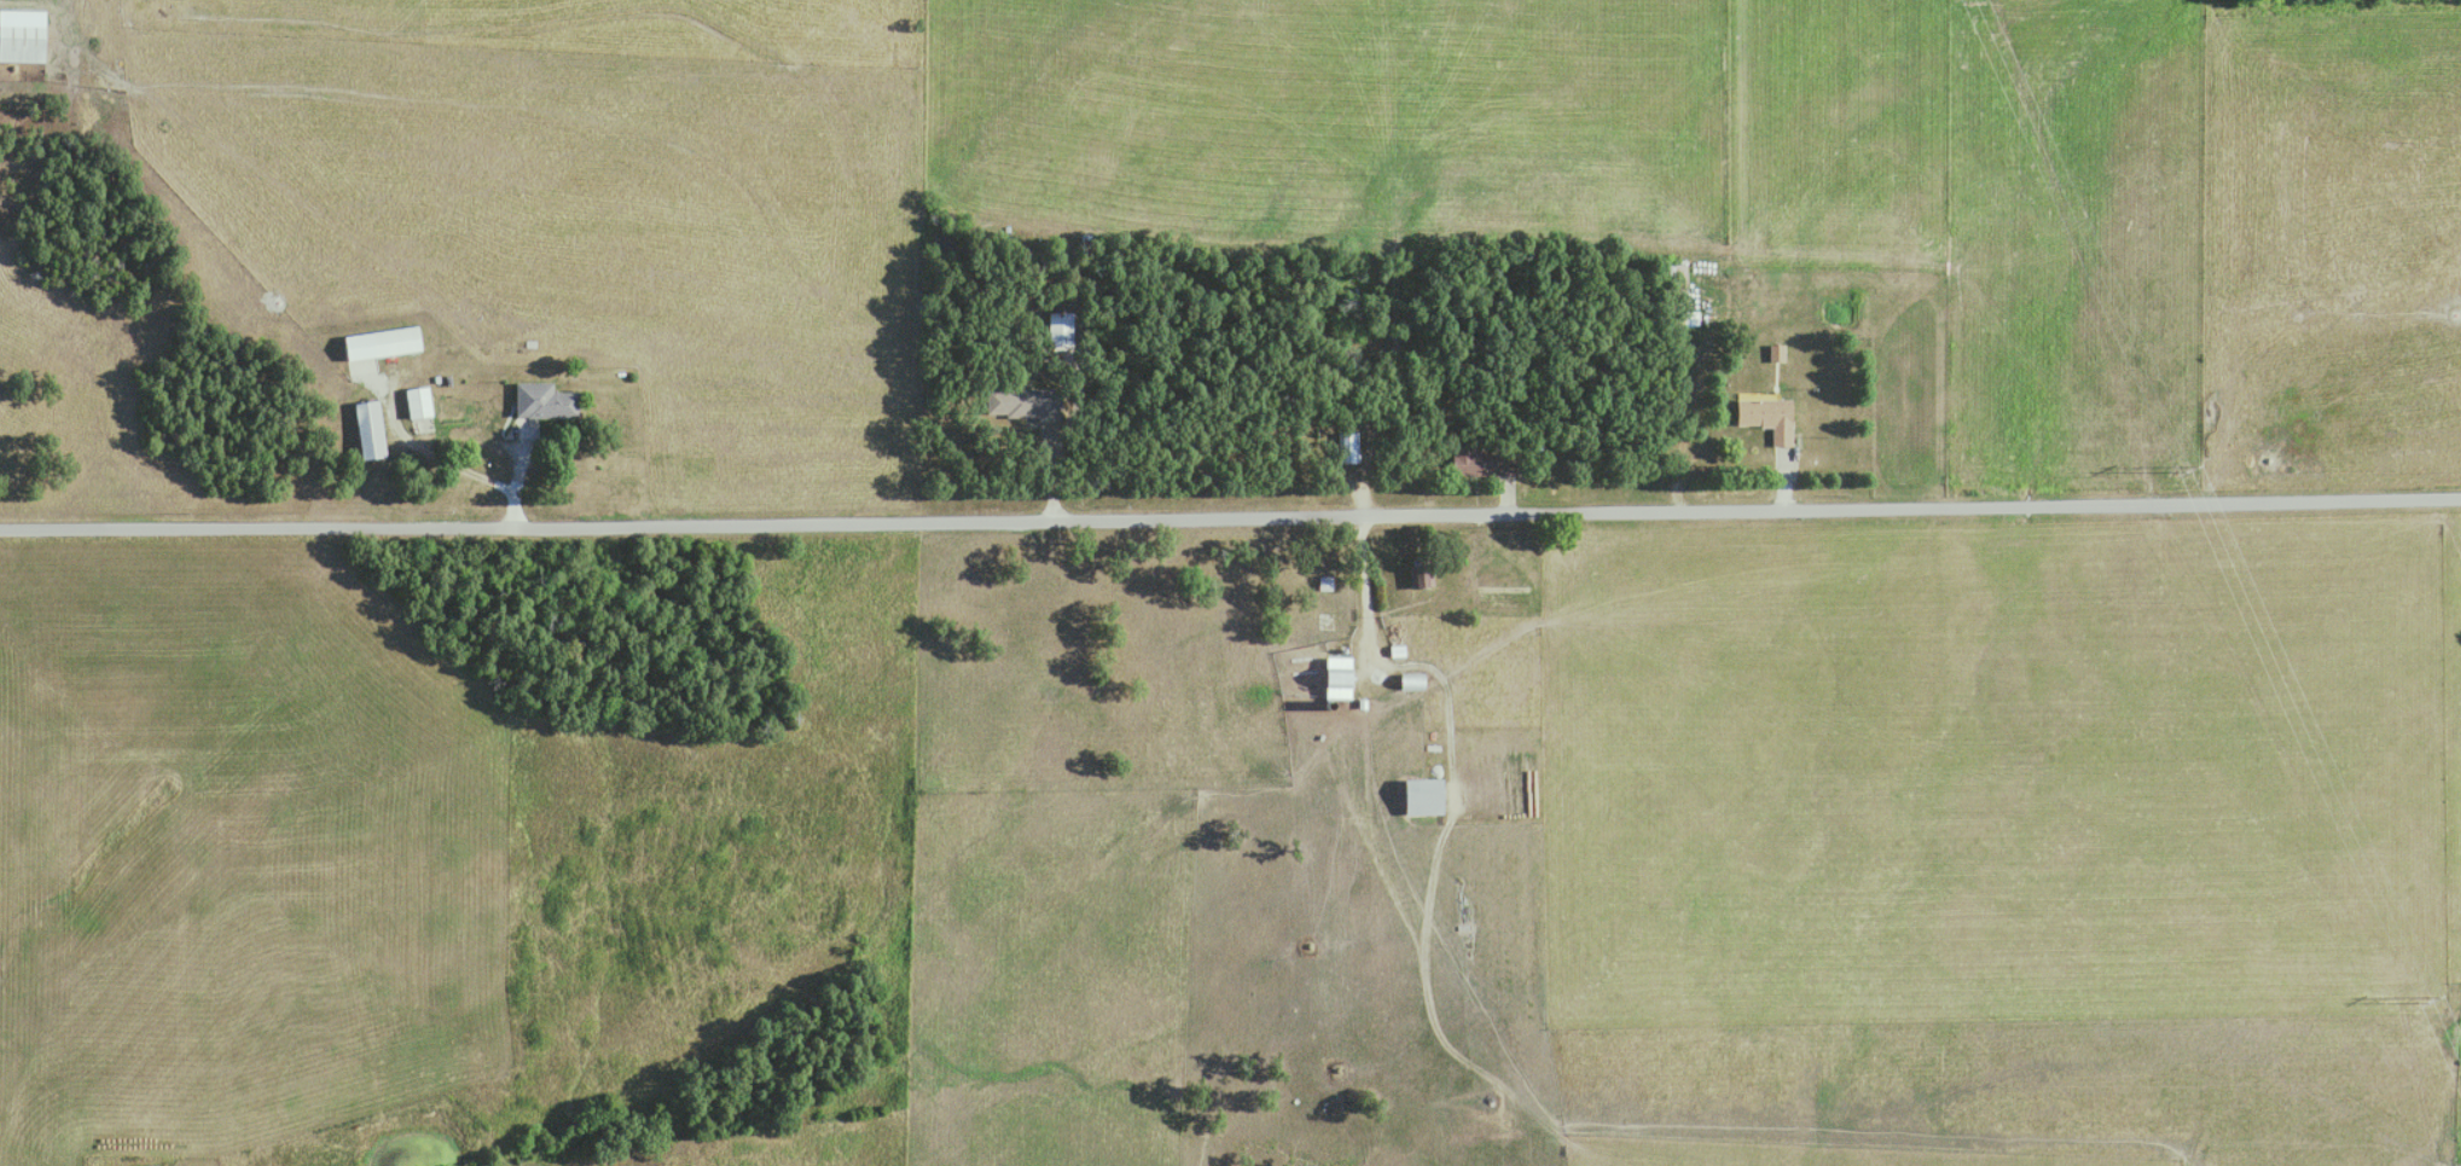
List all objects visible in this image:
building: (23, 34)
building: (1061, 327)
building: (396, 340)
building: (546, 400)
building: (420, 401)
building: (1023, 401)
building: (1770, 416)
road: (1461, 420)
building: (372, 429)
road: (1049, 436)
building: (1350, 445)
road: (475, 448)
building: (1481, 458)
road: (1782, 482)
road: (1230, 517)
building: (1422, 573)
road: (1392, 663)
building: (1342, 677)
building: (1427, 796)

